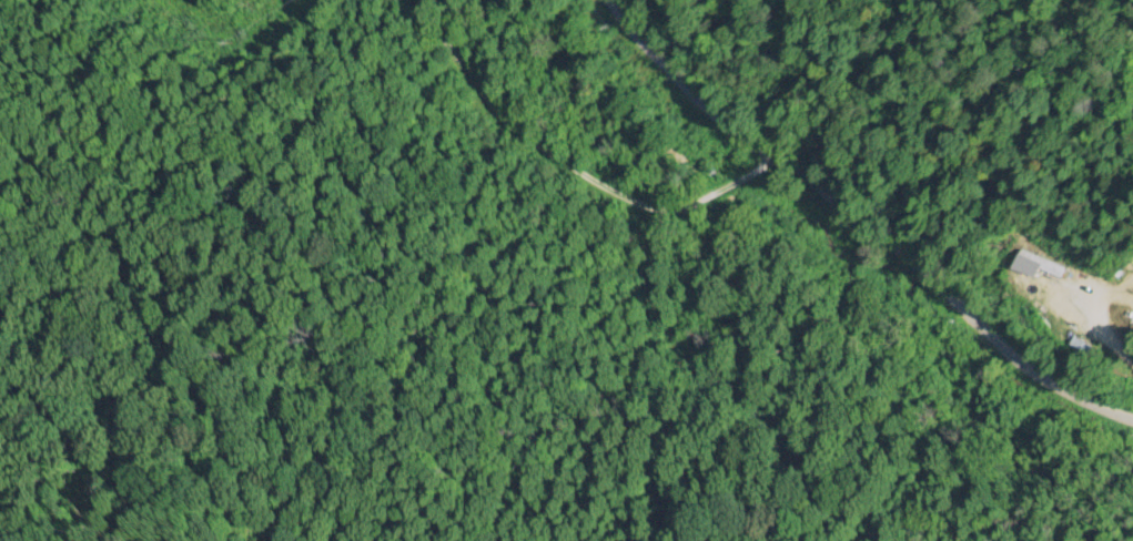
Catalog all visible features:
road: (843, 243)

